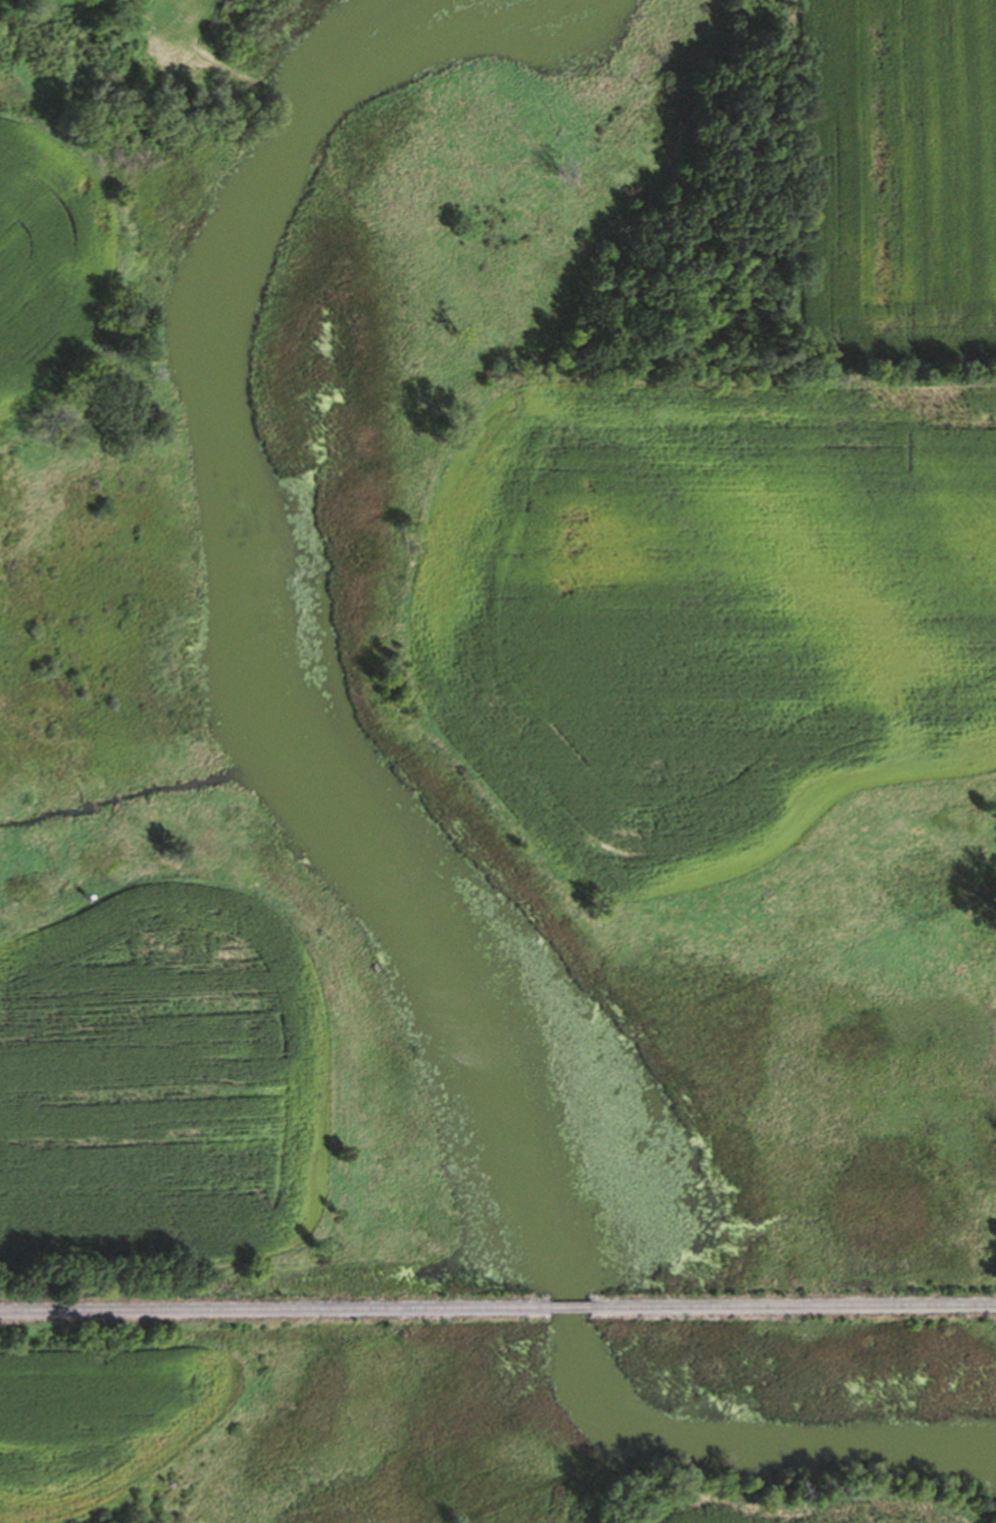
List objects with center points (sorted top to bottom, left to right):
river: (385, 842)
railway: (795, 1308)
railway: (573, 1310)
railway: (276, 1312)

